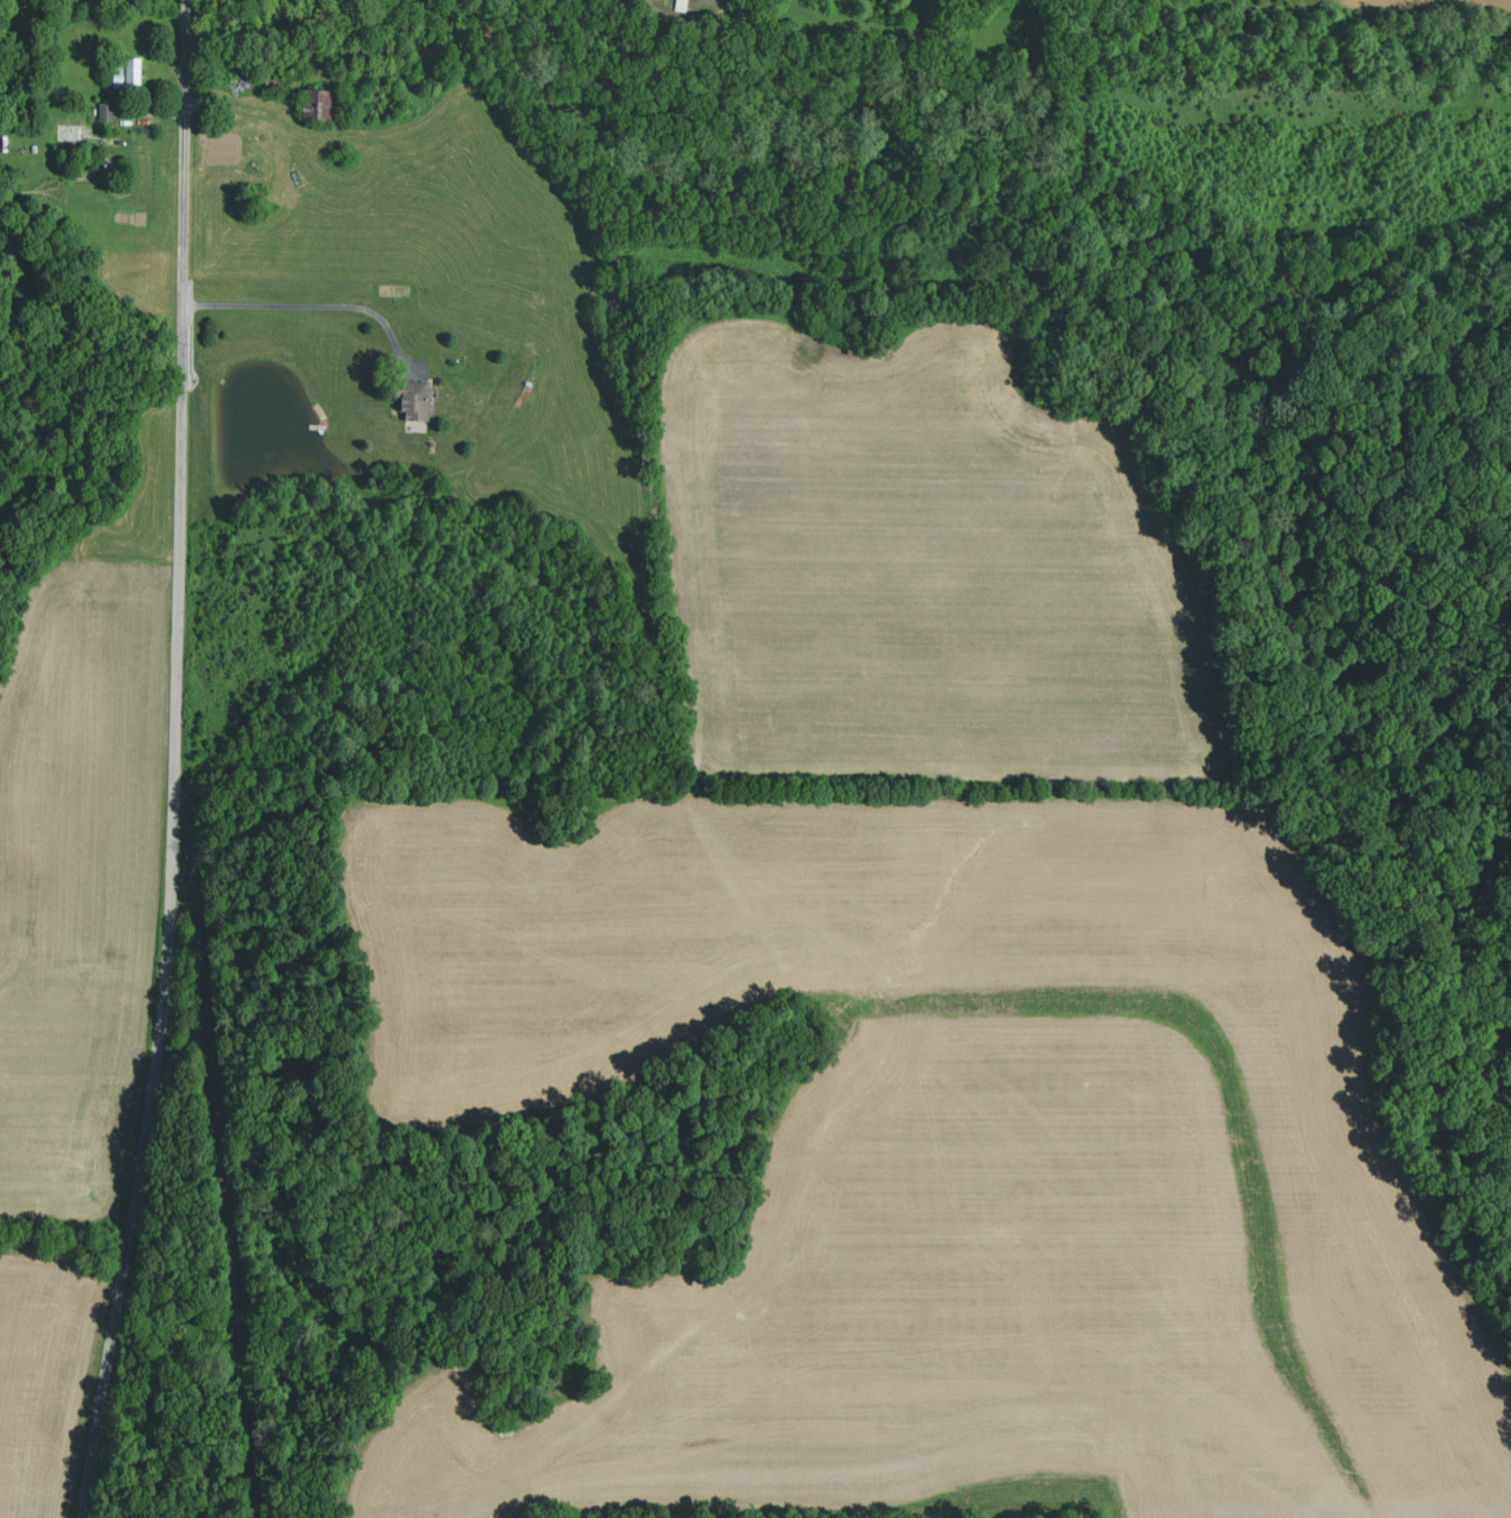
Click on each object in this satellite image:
building: (136, 70)
building: (330, 103)
building: (419, 400)
road: (171, 762)

